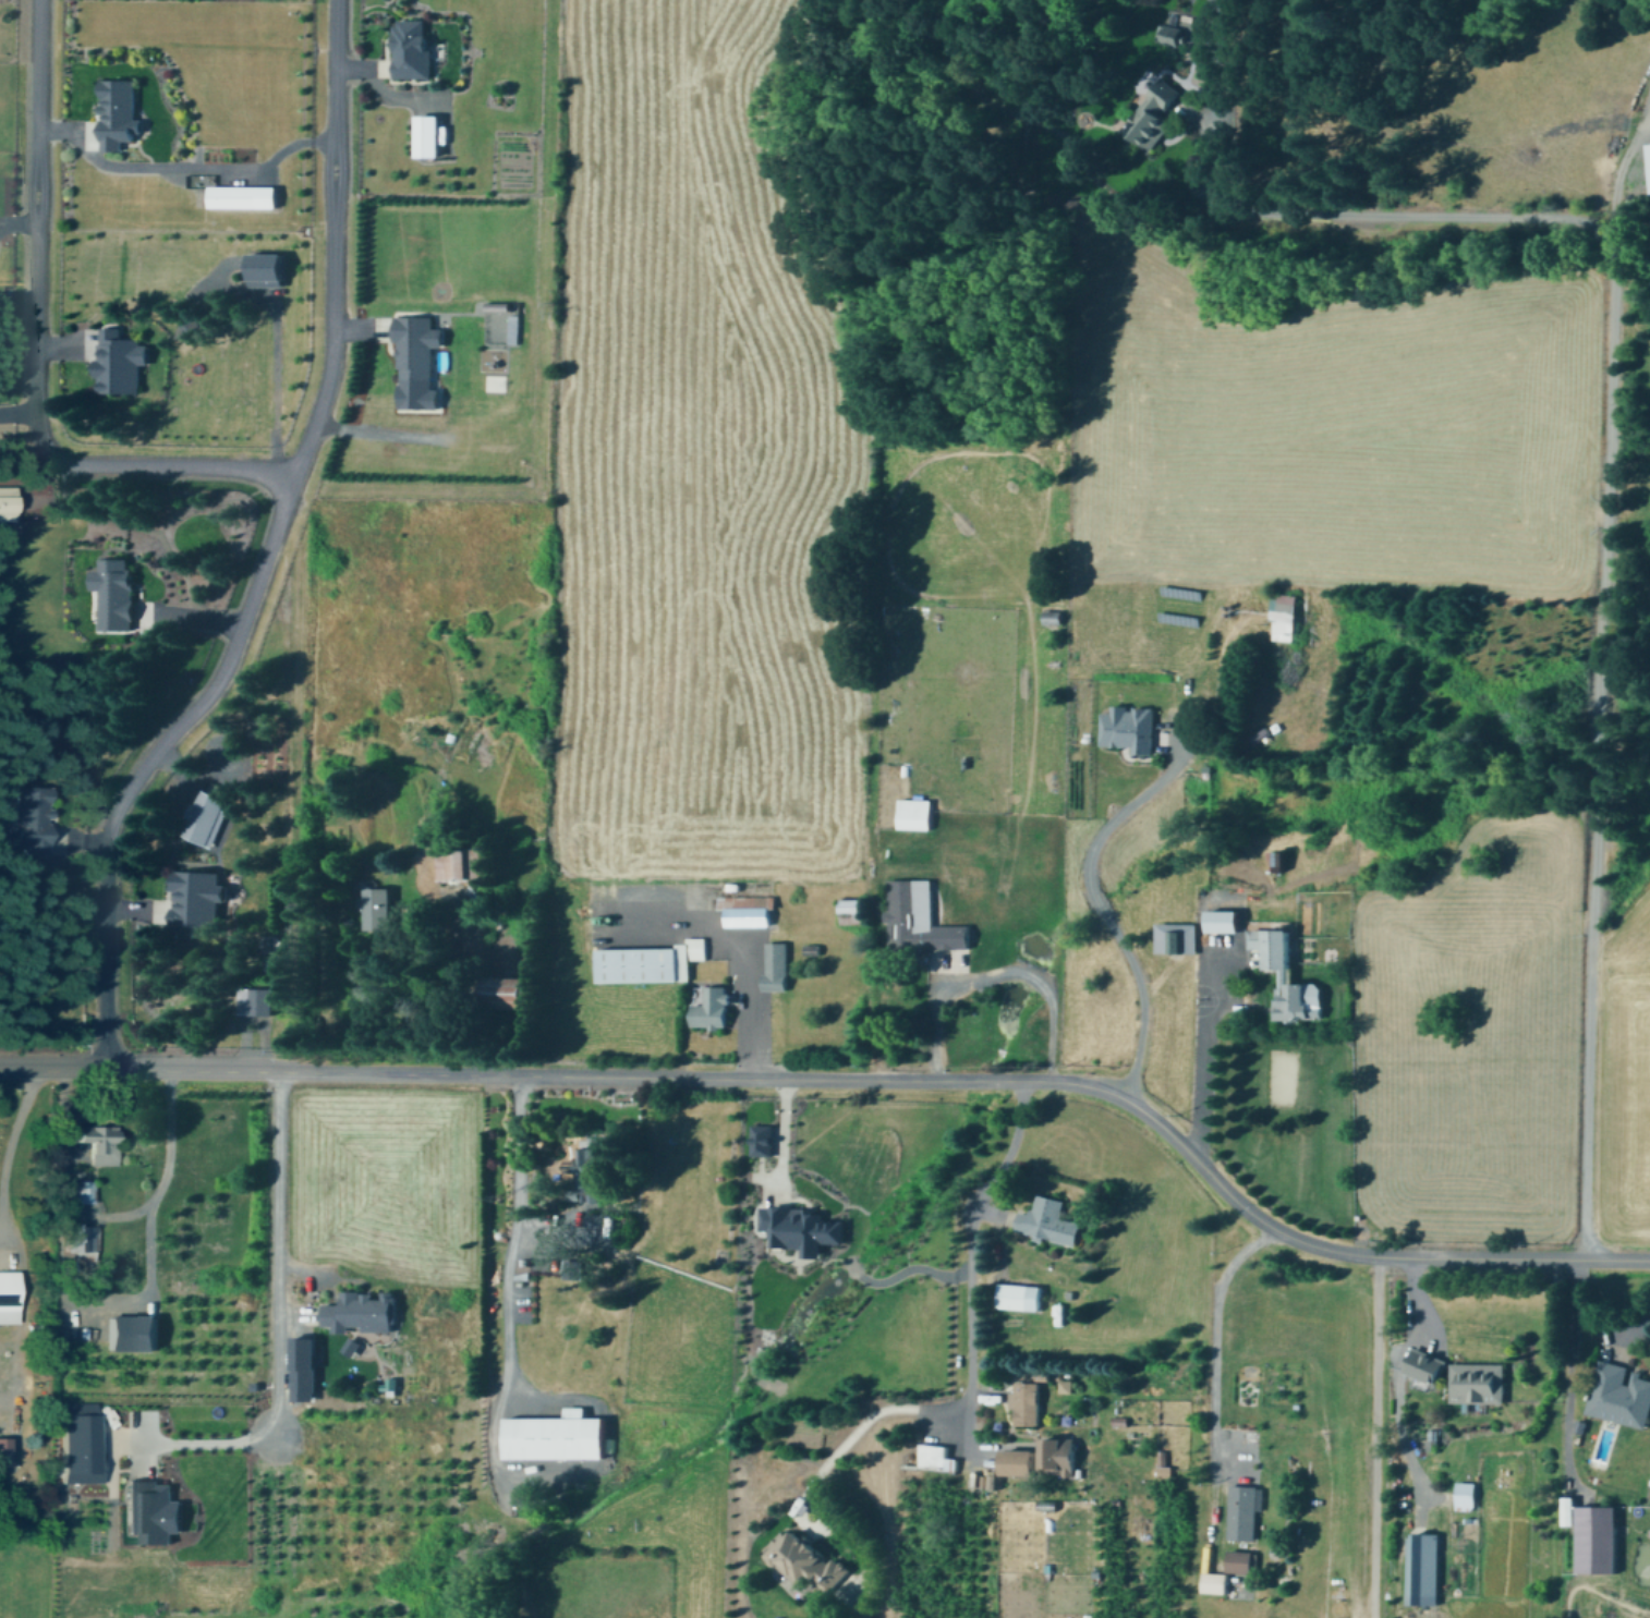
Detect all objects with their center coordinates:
building: (1172, 34)
building: (413, 48)
building: (120, 113)
building: (1155, 113)
building: (430, 135)
road: (180, 168)
building: (244, 196)
building: (270, 269)
building: (500, 306)
building: (120, 362)
building: (420, 362)
road: (1603, 449)
crop: (694, 465)
road: (184, 467)
building: (9, 501)
building: (116, 592)
building: (1056, 616)
building: (1284, 616)
building: (1131, 727)
road: (146, 765)
building: (917, 813)
building: (37, 814)
building: (207, 816)
building: (1279, 859)
building: (460, 862)
building: (198, 897)
road: (1094, 902)
building: (854, 904)
building: (380, 907)
building: (751, 915)
building: (921, 917)
building: (1226, 920)
building: (1179, 937)
building: (651, 960)
building: (778, 964)
road: (991, 973)
building: (1287, 973)
building: (517, 992)
building: (258, 999)
building: (714, 1007)
road: (748, 1008)
road: (853, 1079)
road: (1199, 1086)
road: (12, 1117)
building: (765, 1139)
road: (774, 1139)
building: (102, 1141)
building: (587, 1172)
road: (150, 1183)
building: (85, 1190)
building: (1051, 1219)
building: (803, 1227)
road: (509, 1231)
building: (84, 1236)
road: (978, 1245)
road: (278, 1254)
building: (574, 1266)
building: (10, 1294)
building: (1022, 1295)
building: (364, 1311)
building: (137, 1330)
road: (1606, 1330)
building: (1429, 1363)
building: (306, 1367)
road: (1566, 1372)
road: (1213, 1376)
building: (1480, 1380)
road: (1390, 1382)
building: (1621, 1395)
building: (1027, 1402)
road: (866, 1411)
building: (558, 1435)
road: (1369, 1437)
building: (84, 1440)
road: (205, 1445)
building: (7, 1448)
building: (935, 1456)
building: (1061, 1456)
building: (1021, 1460)
building: (1165, 1471)
building: (993, 1480)
building: (1468, 1493)
building: (156, 1510)
building: (1570, 1510)
building: (1242, 1511)
building: (1600, 1537)
building: (806, 1559)
building: (1241, 1560)
building: (1424, 1568)
building: (1215, 1581)

